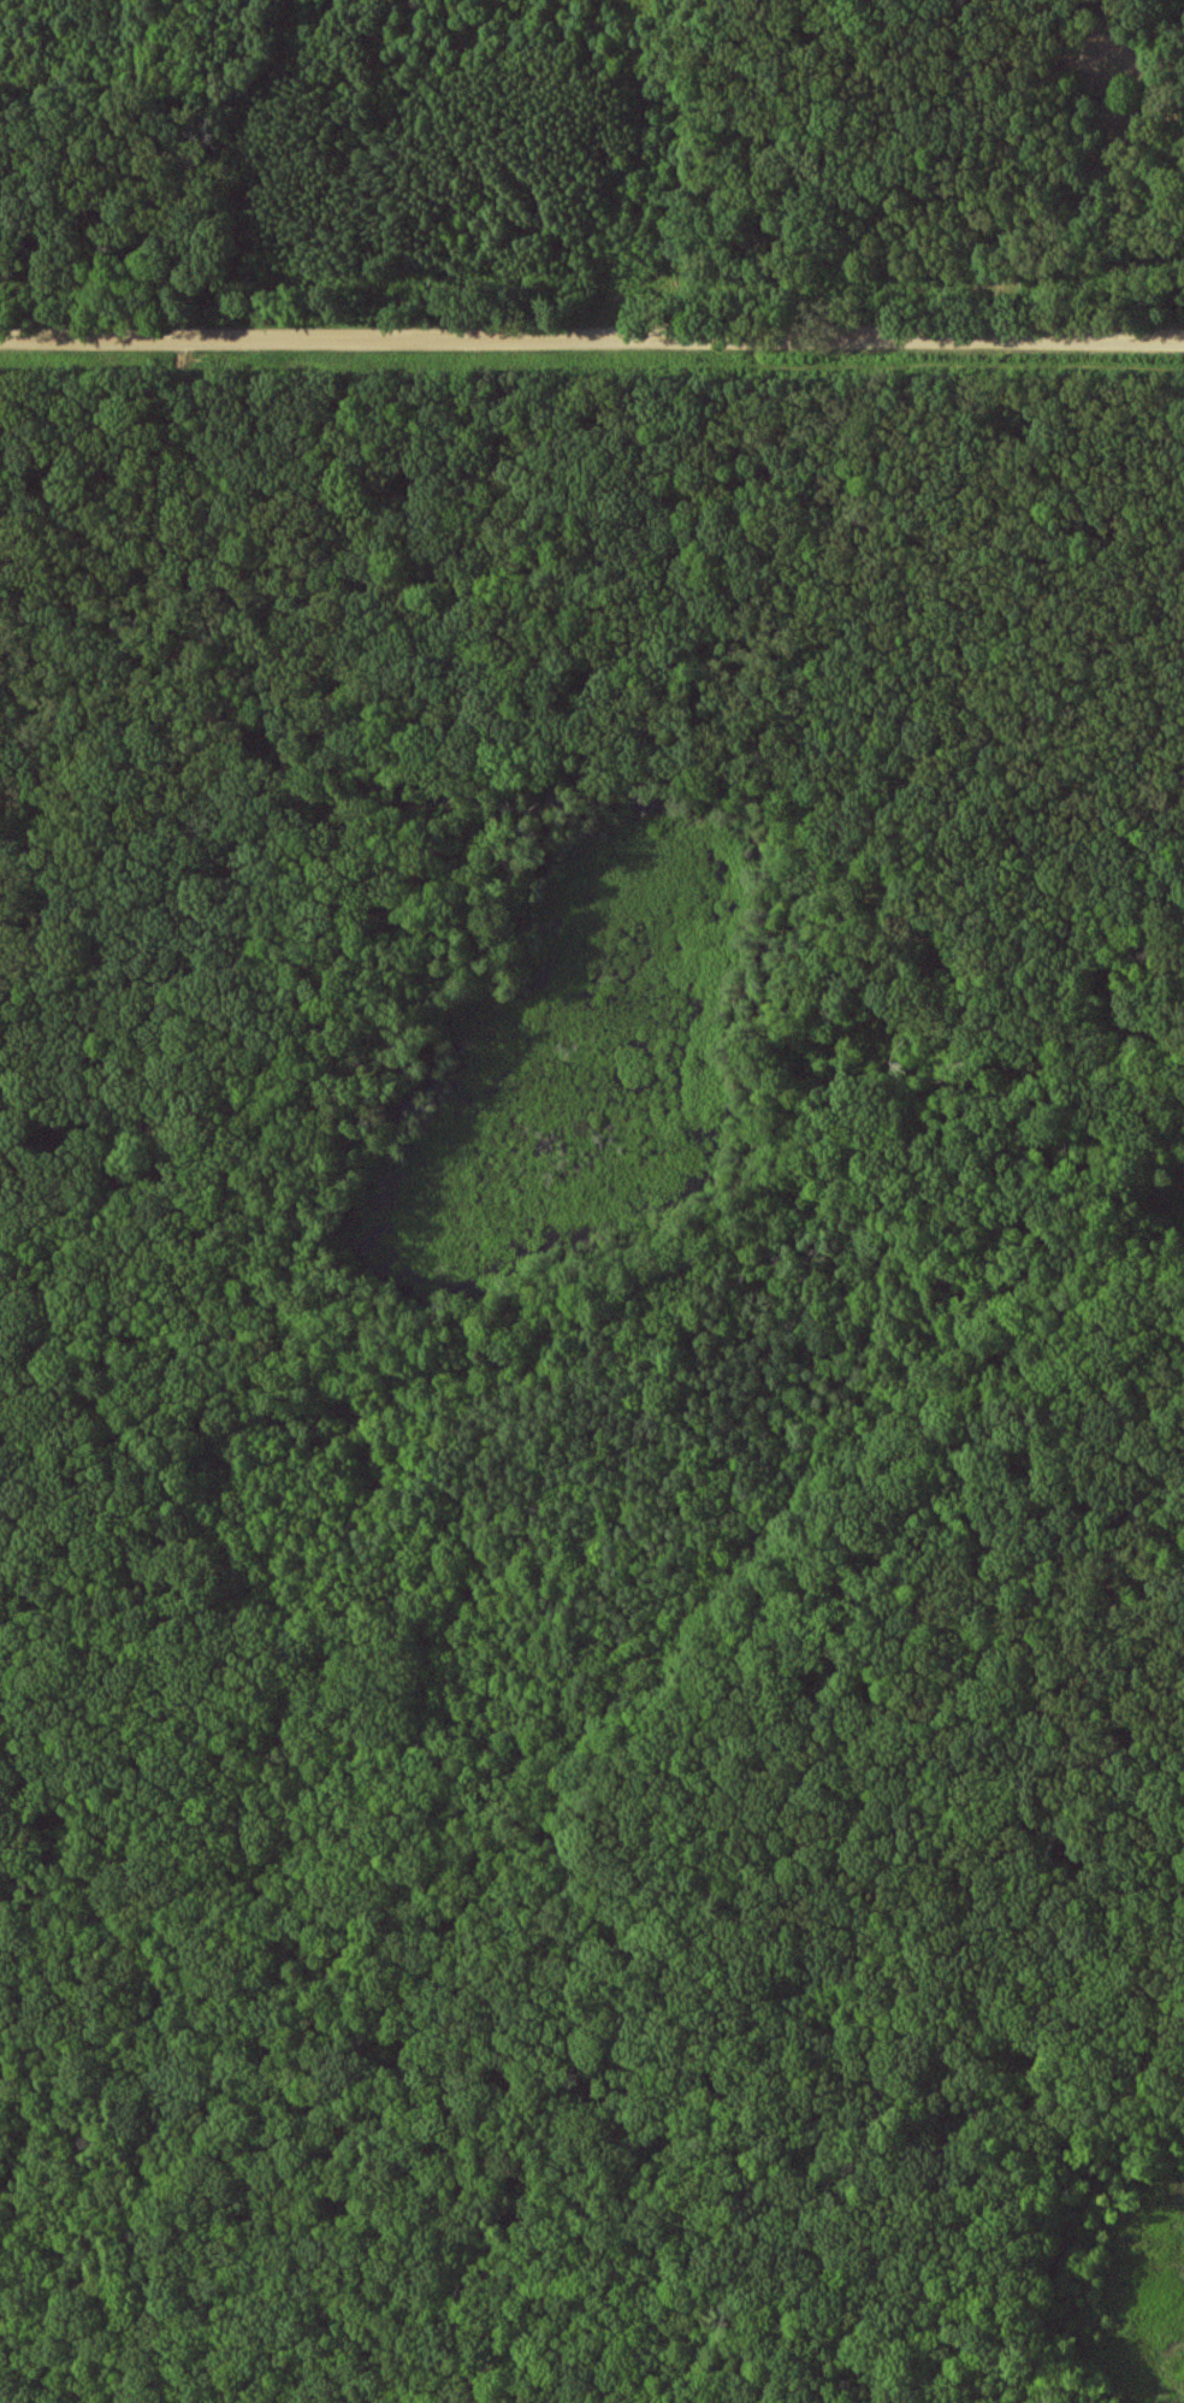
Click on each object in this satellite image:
road: (592, 338)

